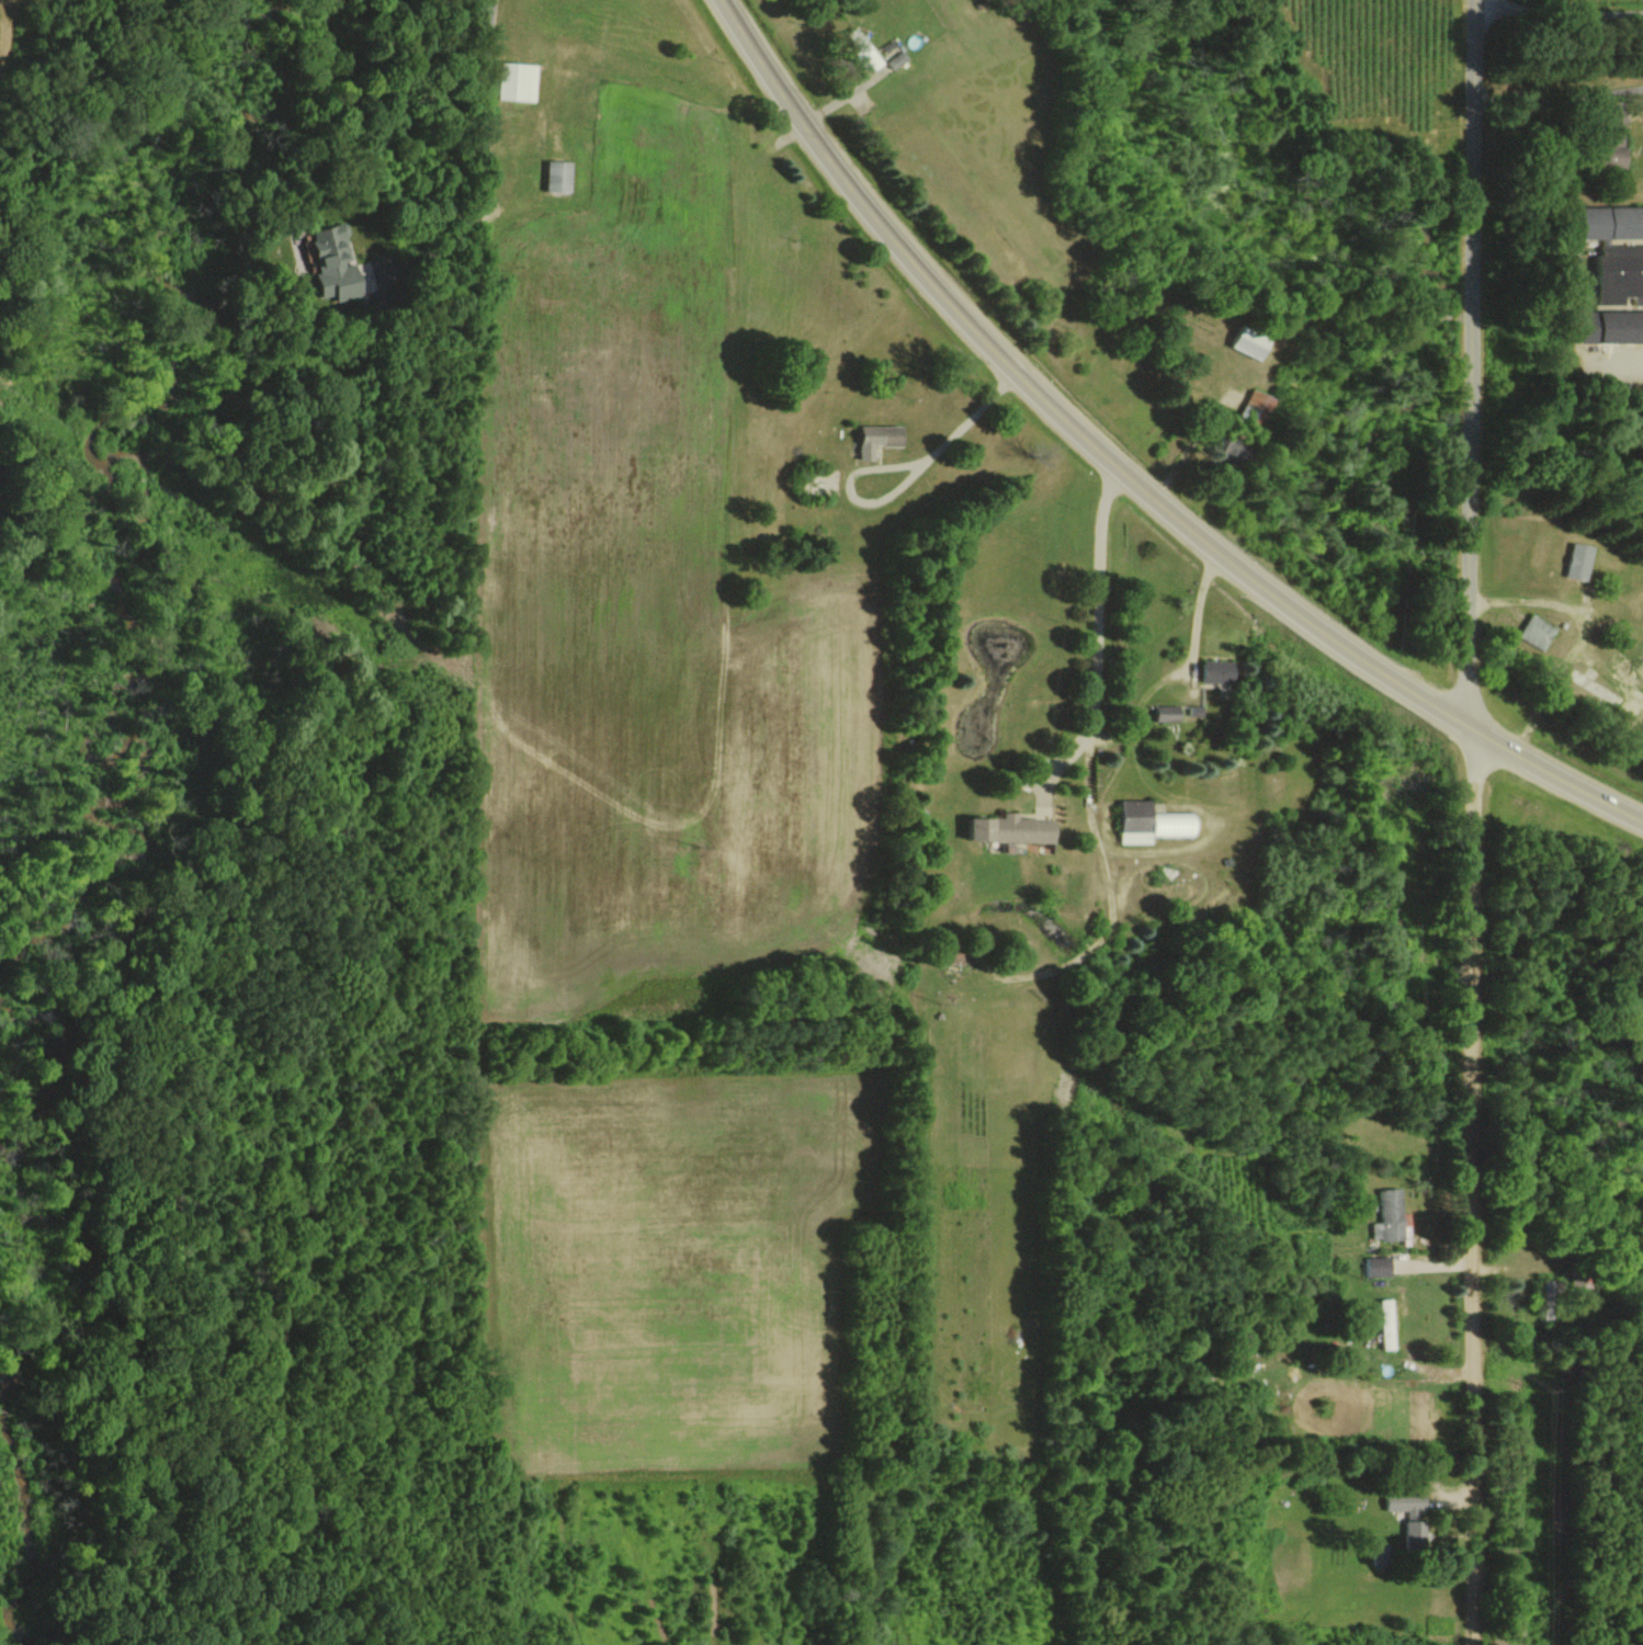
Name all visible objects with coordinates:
road: (1555, 12)
building: (865, 48)
building: (897, 58)
building: (518, 81)
road: (1556, 97)
building: (1605, 134)
road: (480, 145)
building: (560, 175)
building: (1610, 250)
building: (339, 265)
building: (1605, 326)
building: (1243, 343)
building: (1249, 407)
building: (871, 439)
building: (1216, 446)
road: (902, 465)
road: (1125, 472)
building: (1572, 561)
road: (1189, 604)
building: (1534, 632)
road: (1578, 635)
road: (1091, 647)
building: (1208, 670)
building: (1162, 713)
building: (1145, 822)
road: (1471, 822)
building: (1002, 829)
building: (1385, 1216)
building: (1373, 1267)
building: (1382, 1324)
building: (1405, 1512)

